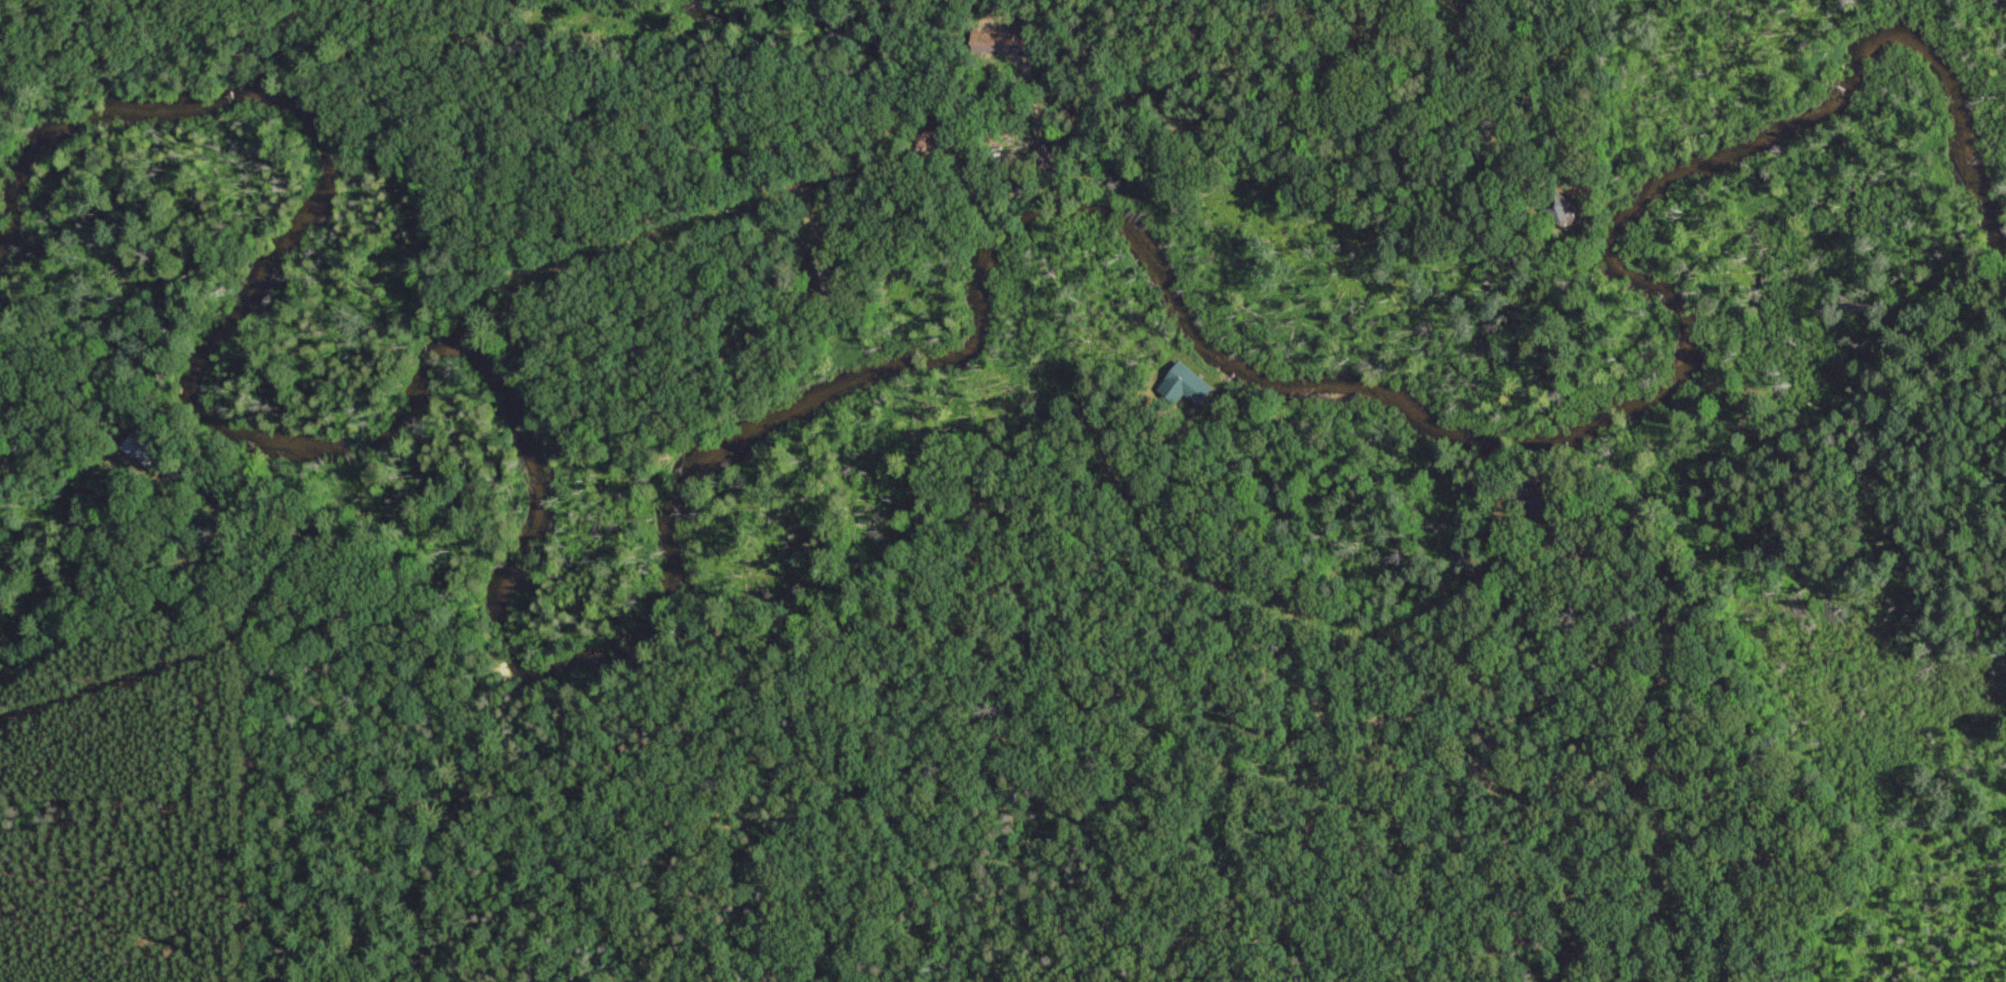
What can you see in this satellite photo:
building: (1189, 383)
river: (829, 395)
road: (283, 726)

